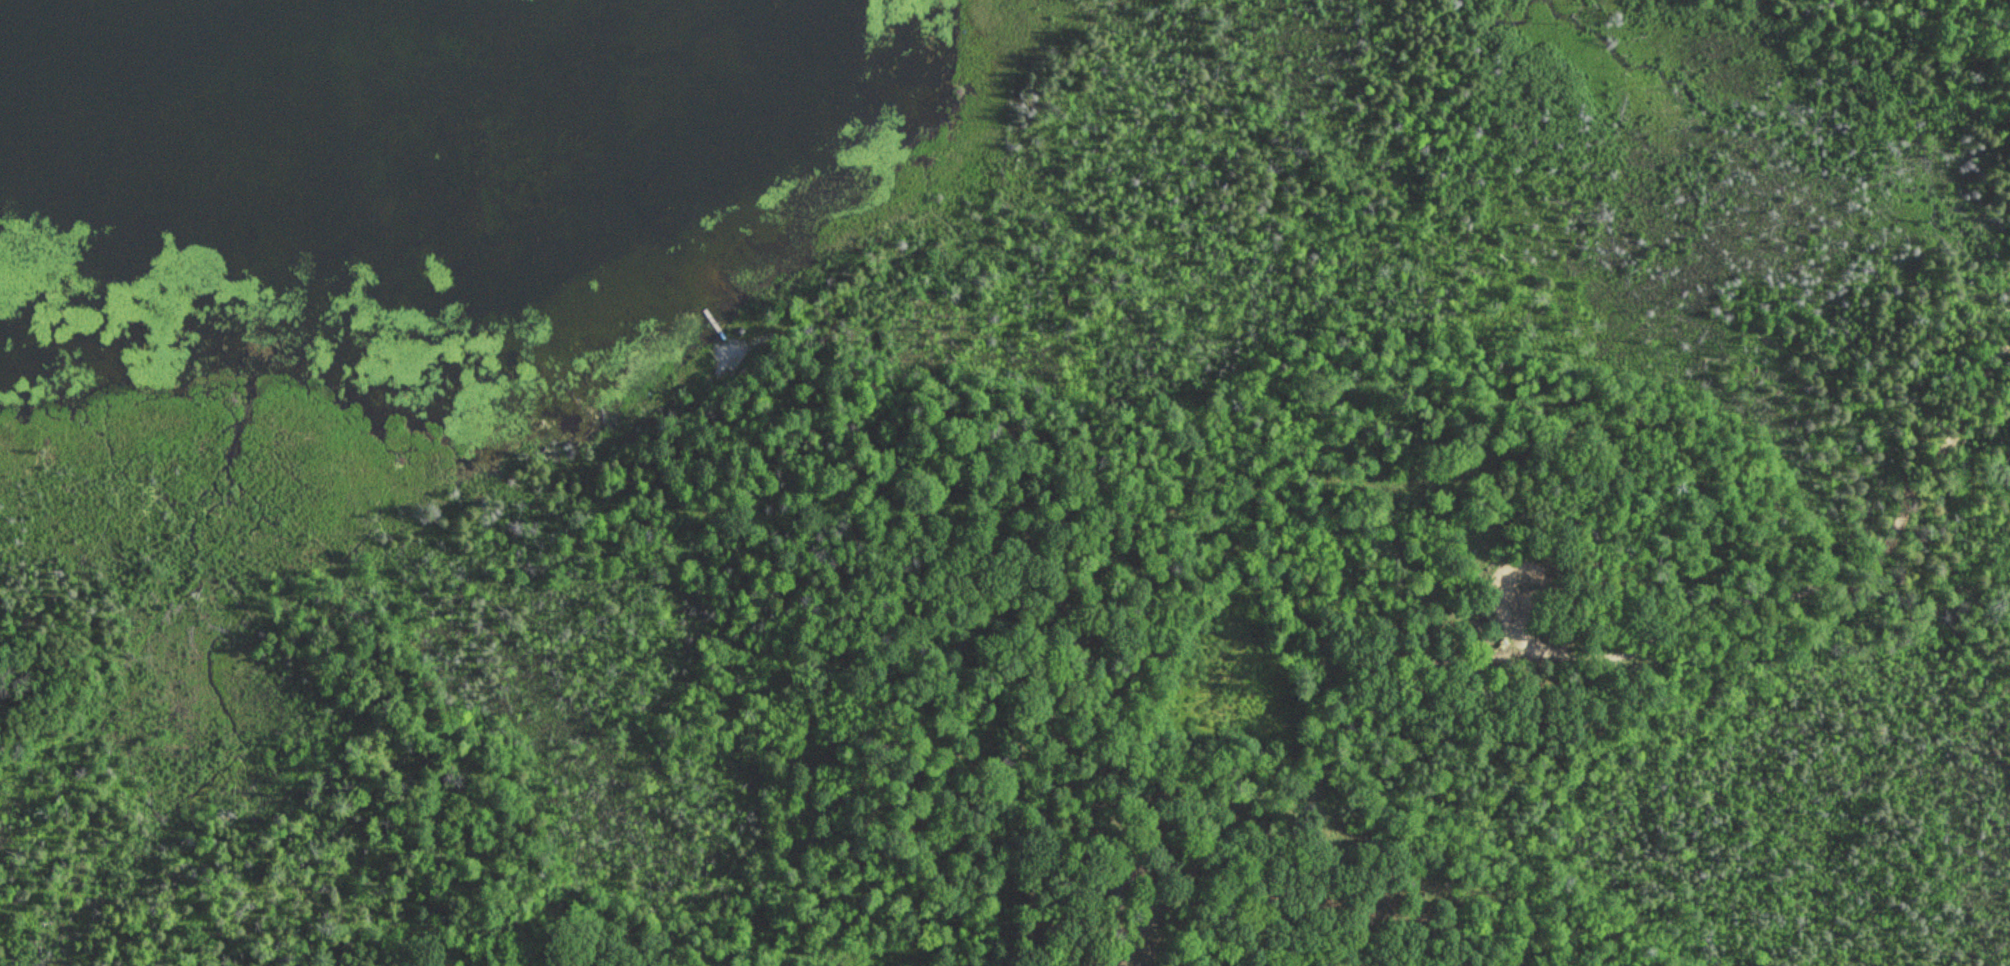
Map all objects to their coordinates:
road: (1153, 931)

